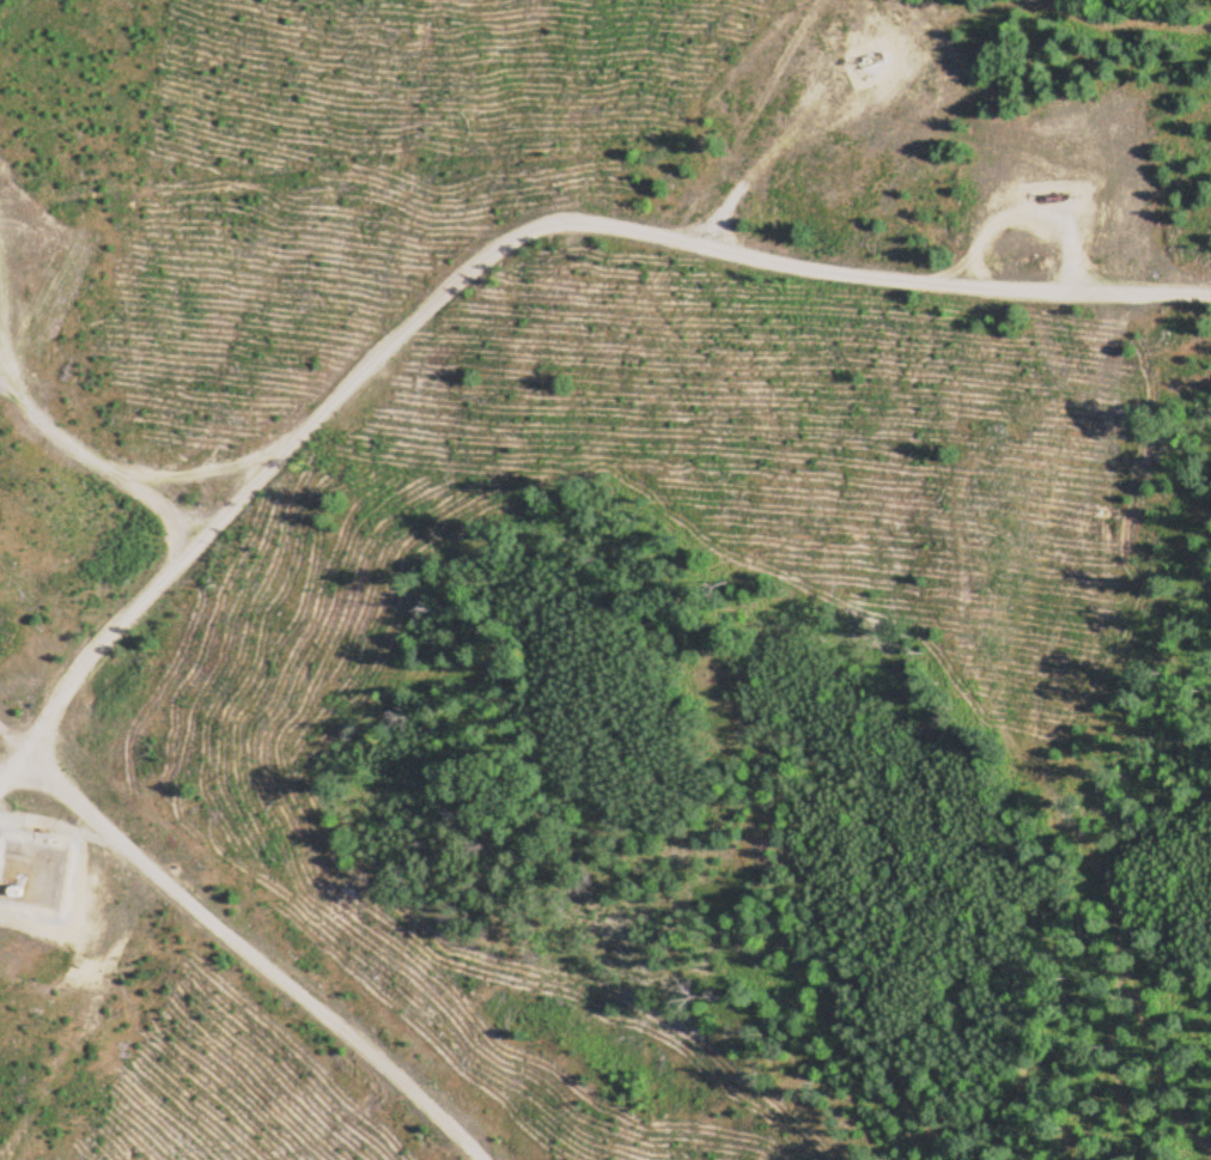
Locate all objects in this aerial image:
petroleum well: (1053, 198)
road: (510, 254)
road: (79, 468)
road: (239, 943)

